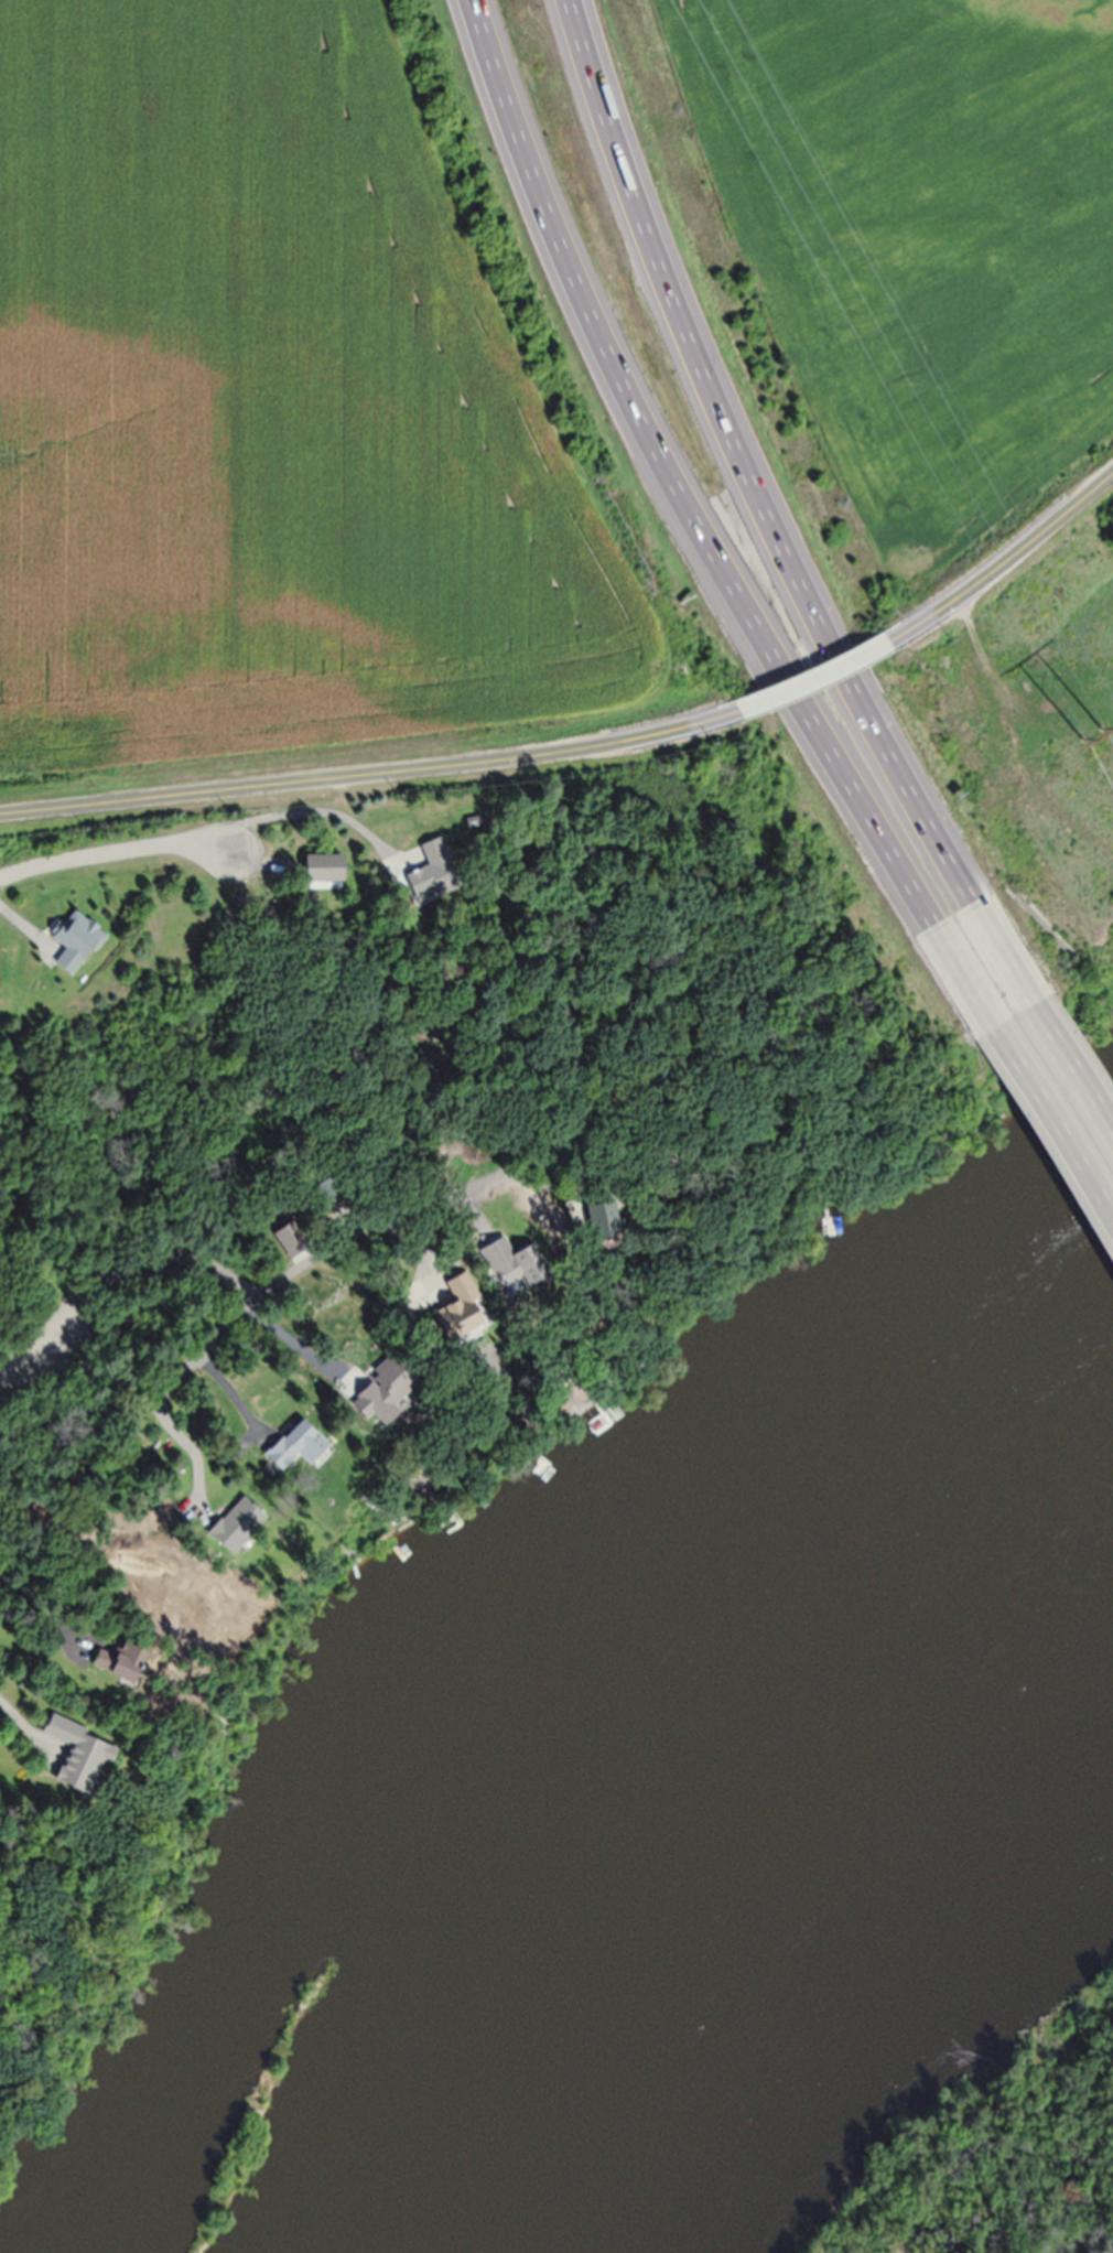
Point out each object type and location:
road: (747, 477)
road: (684, 500)
road: (1011, 569)
road: (821, 680)
power tower: (1091, 733)
road: (372, 774)
road: (315, 813)
road: (108, 853)
building: (323, 871)
building: (432, 875)
building: (75, 944)
road: (1050, 1033)
road: (1037, 1097)
road: (396, 1215)
building: (609, 1221)
building: (290, 1242)
building: (519, 1270)
road: (110, 1276)
building: (462, 1311)
road: (290, 1338)
road: (154, 1394)
building: (379, 1400)
building: (298, 1448)
building: (236, 1528)
road: (41, 1605)
building: (121, 1667)
road: (18, 1715)
building: (80, 1759)
river: (840, 1792)

